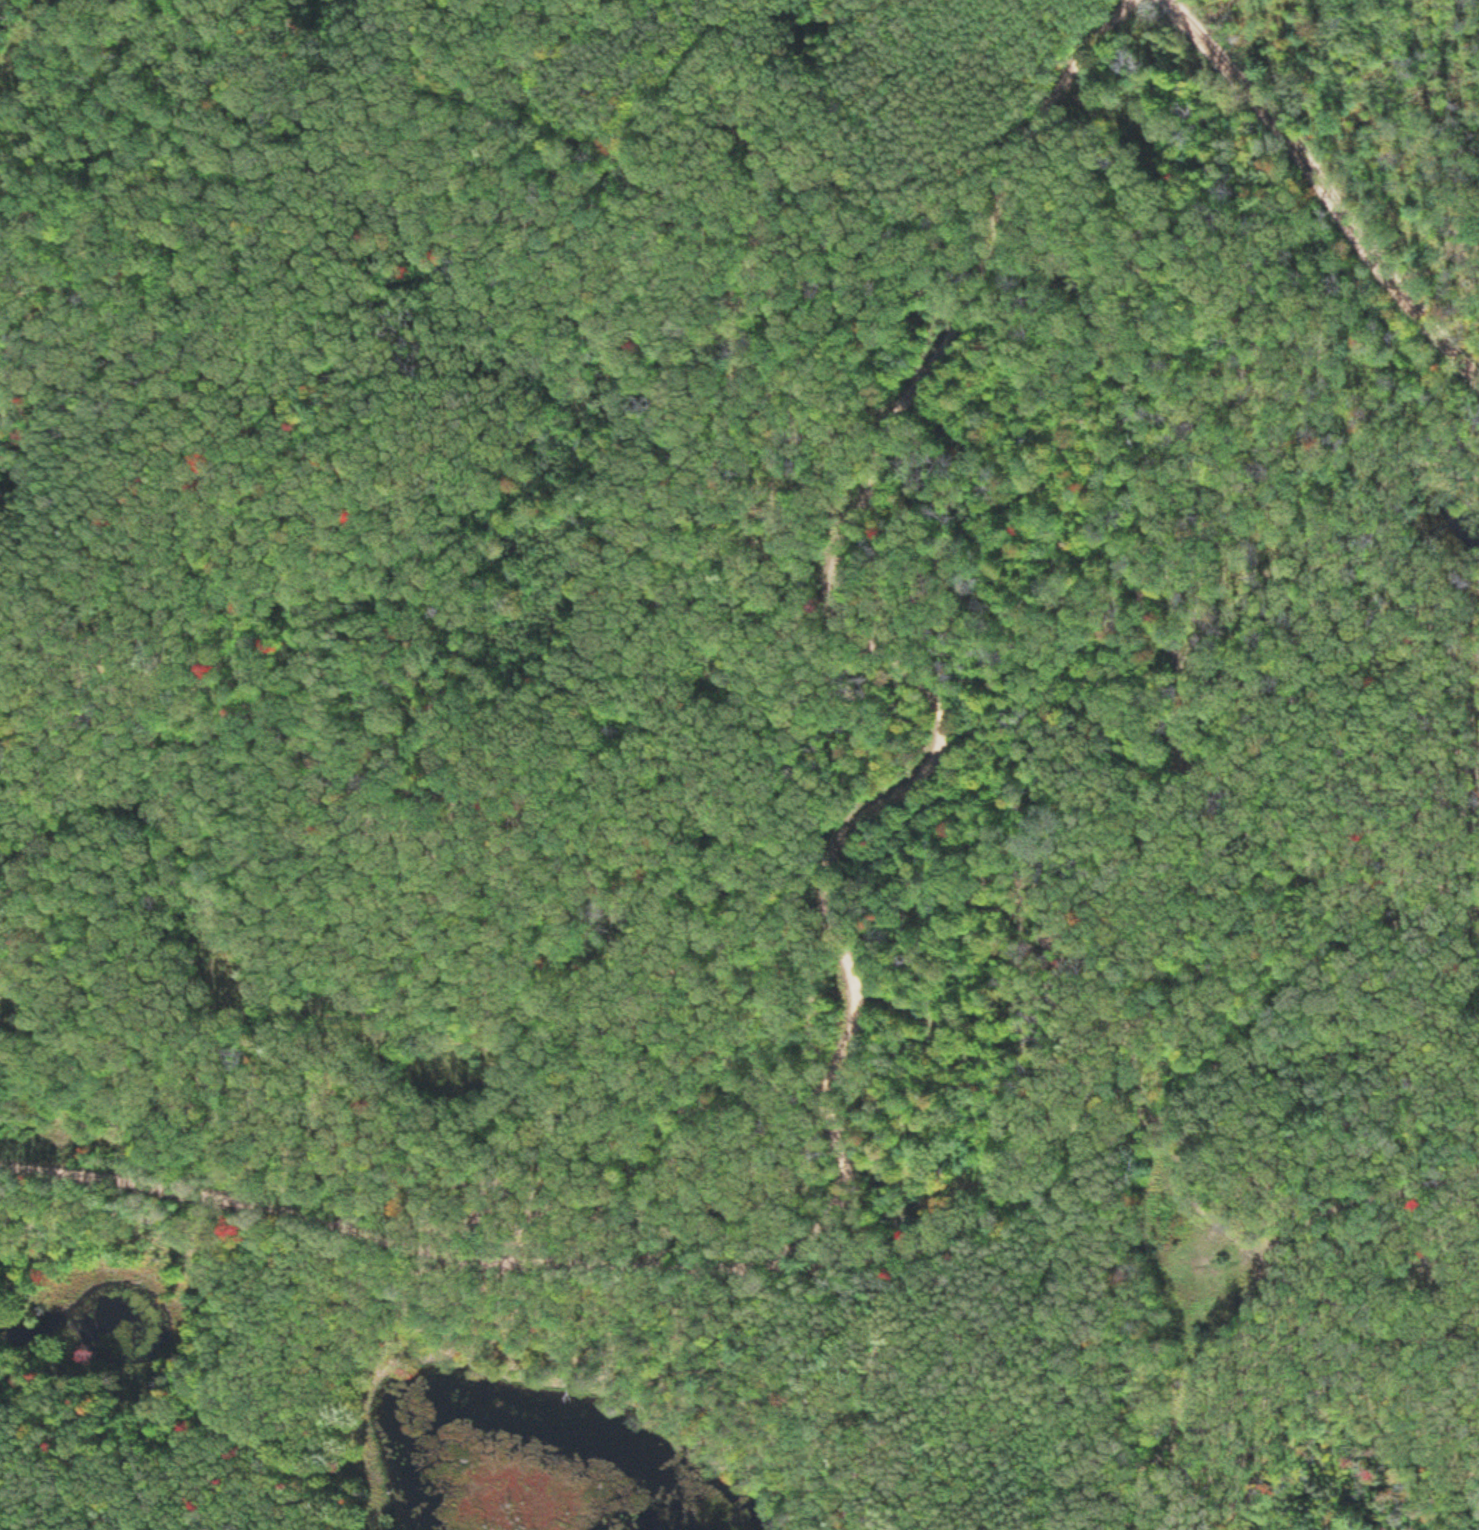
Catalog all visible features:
road: (1327, 183)
road: (868, 647)
road: (448, 1244)
road: (903, 1414)

